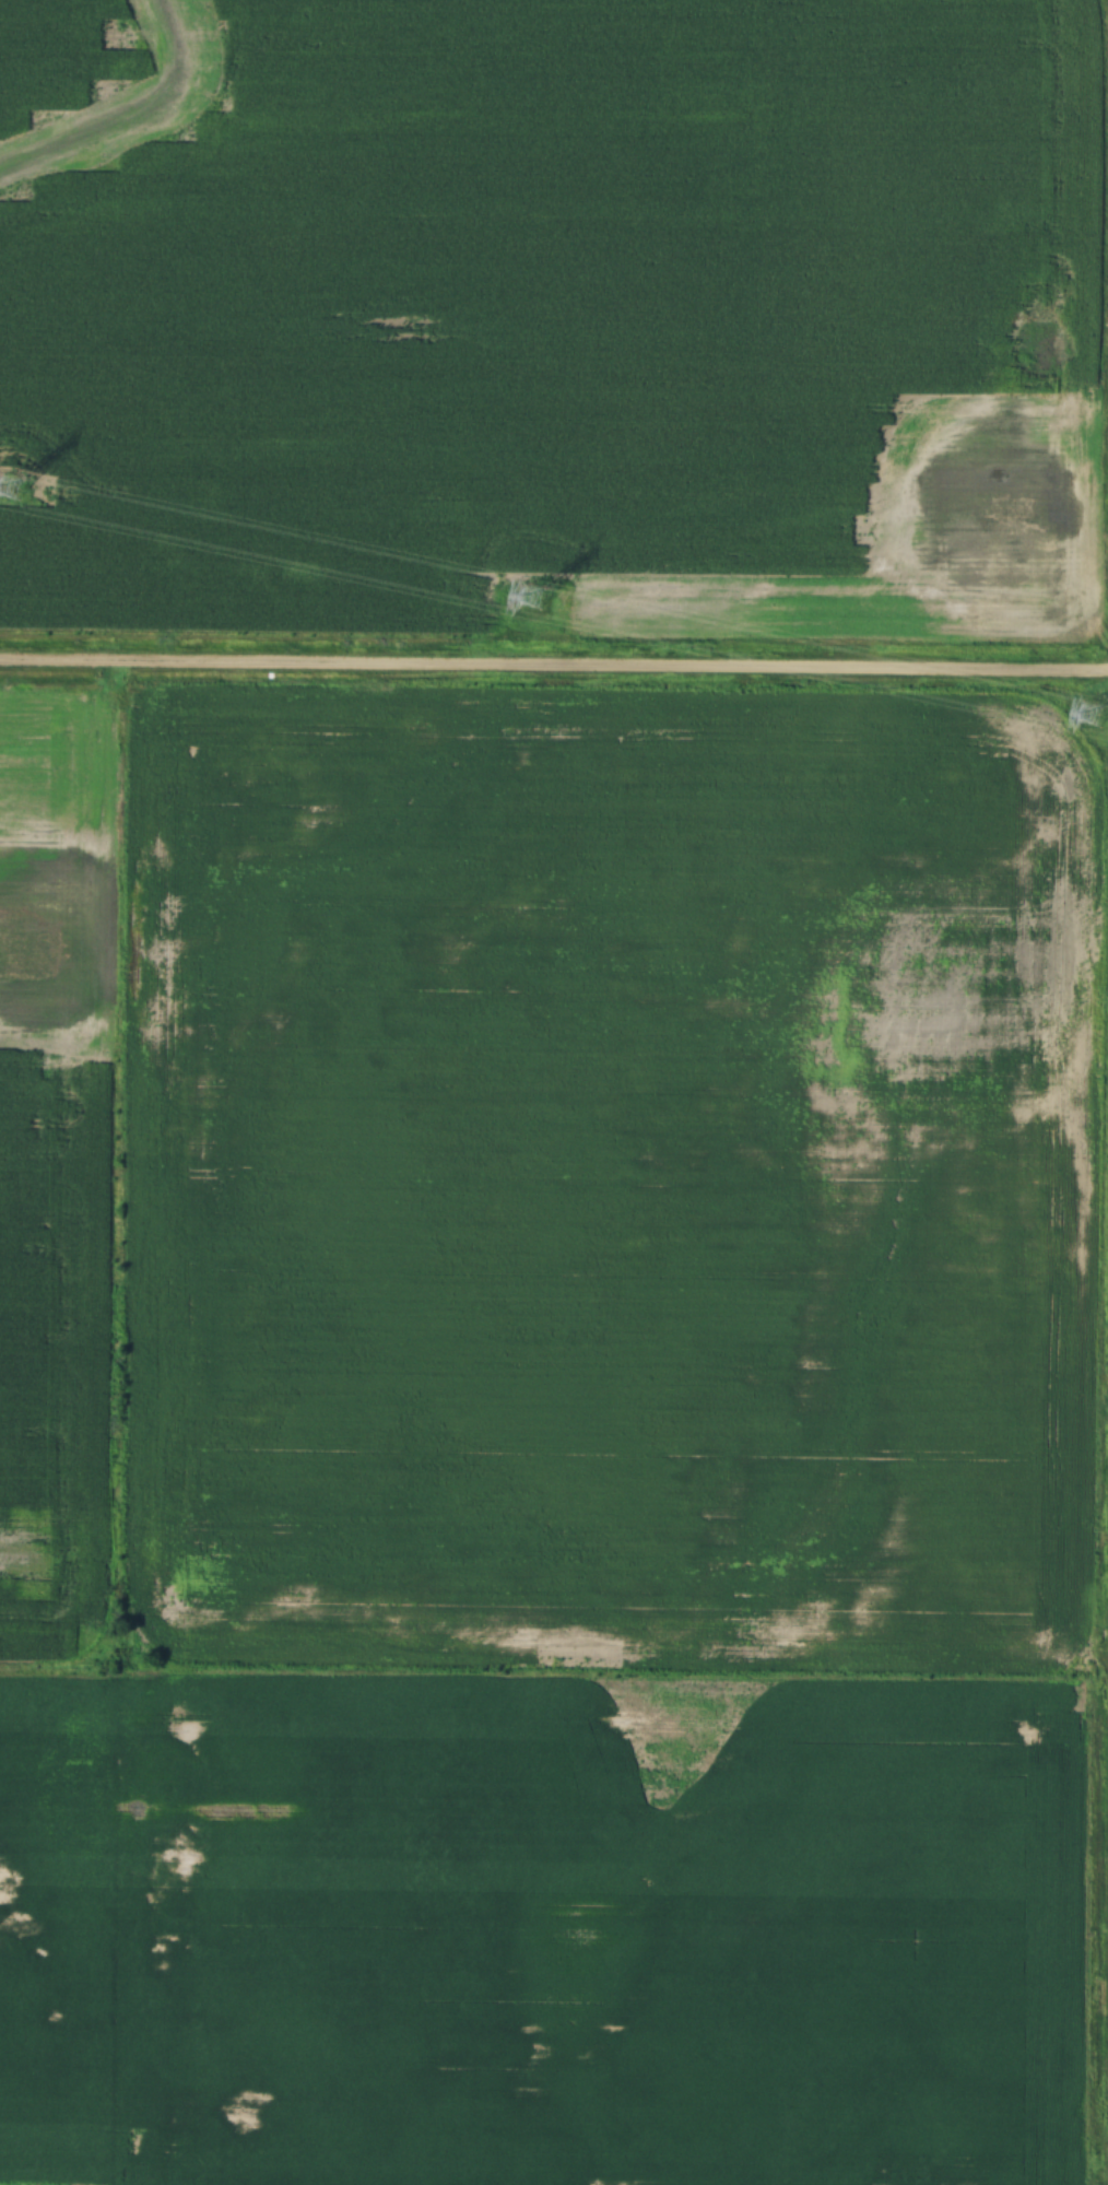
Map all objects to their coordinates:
power tower: (10, 486)
power tower: (531, 597)
road: (553, 672)
power tower: (1094, 716)

